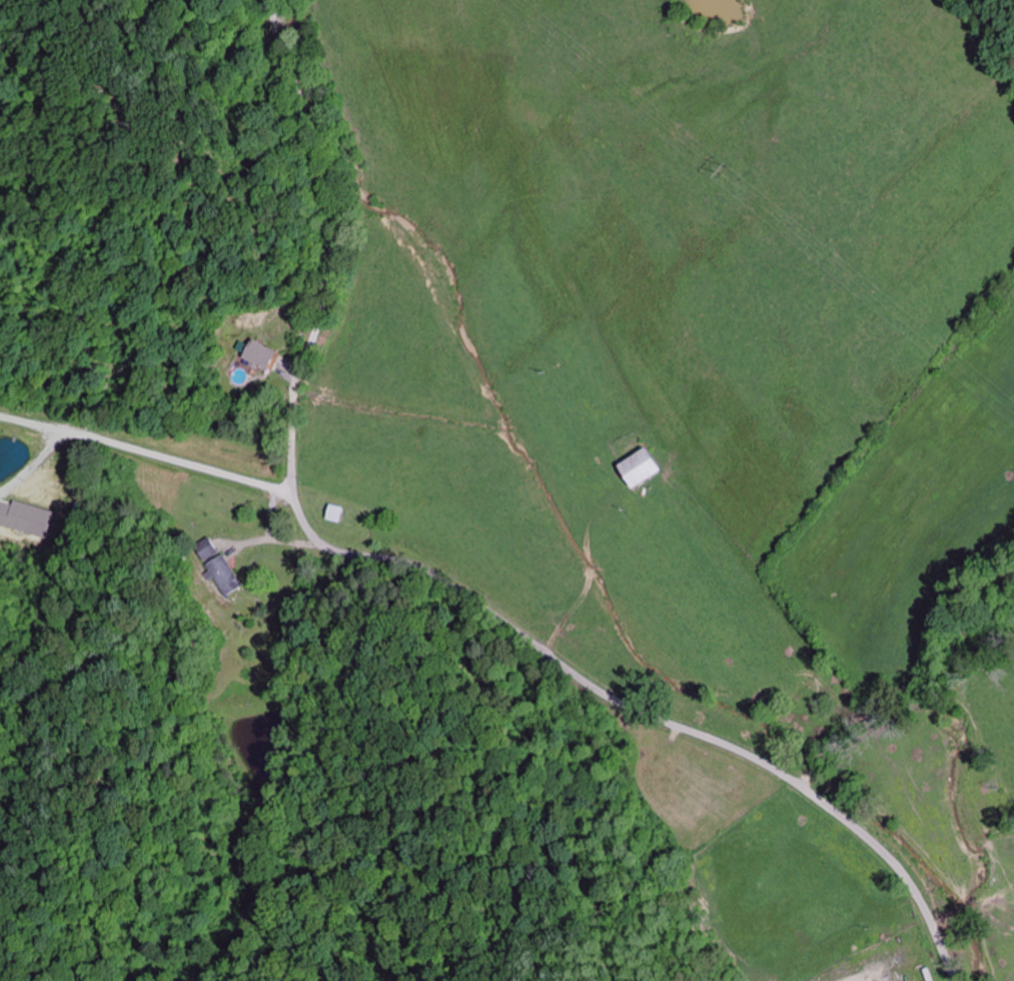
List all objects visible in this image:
building: (273, 353)
building: (632, 468)
road: (227, 476)
building: (344, 513)
building: (224, 567)
road: (433, 573)

